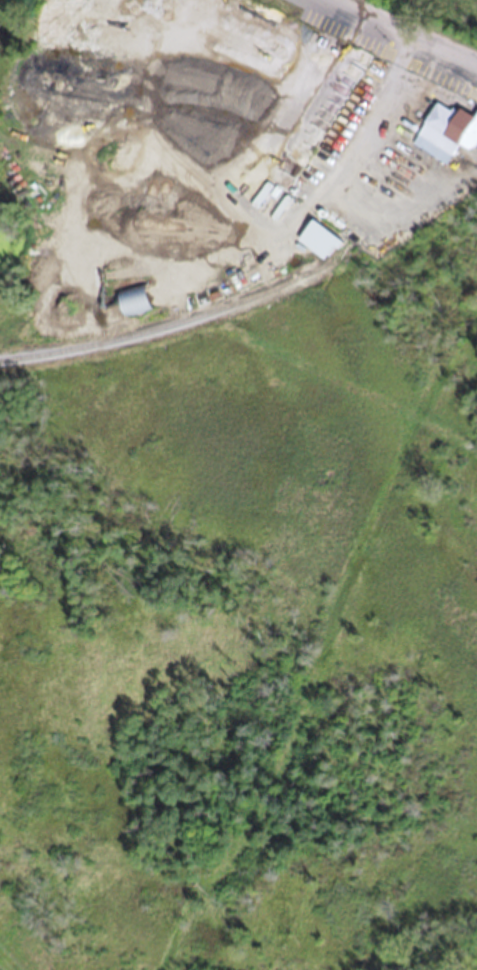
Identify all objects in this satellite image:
road: (408, 30)
building: (446, 140)
building: (132, 308)
railway: (180, 328)

